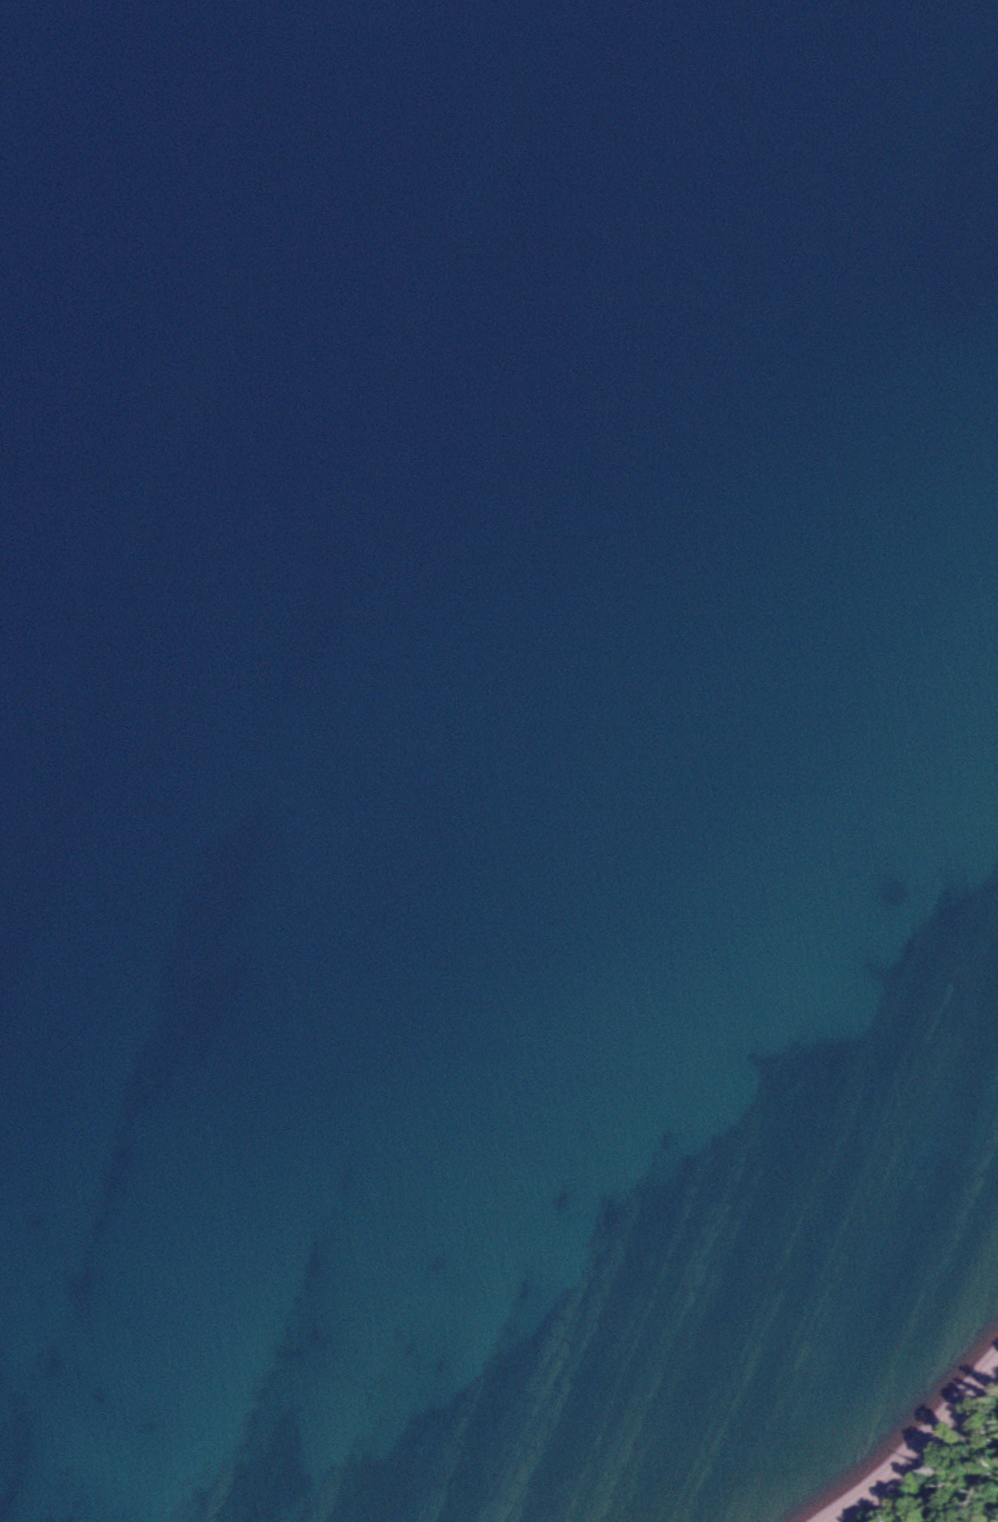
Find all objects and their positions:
park: (923, 1454)

